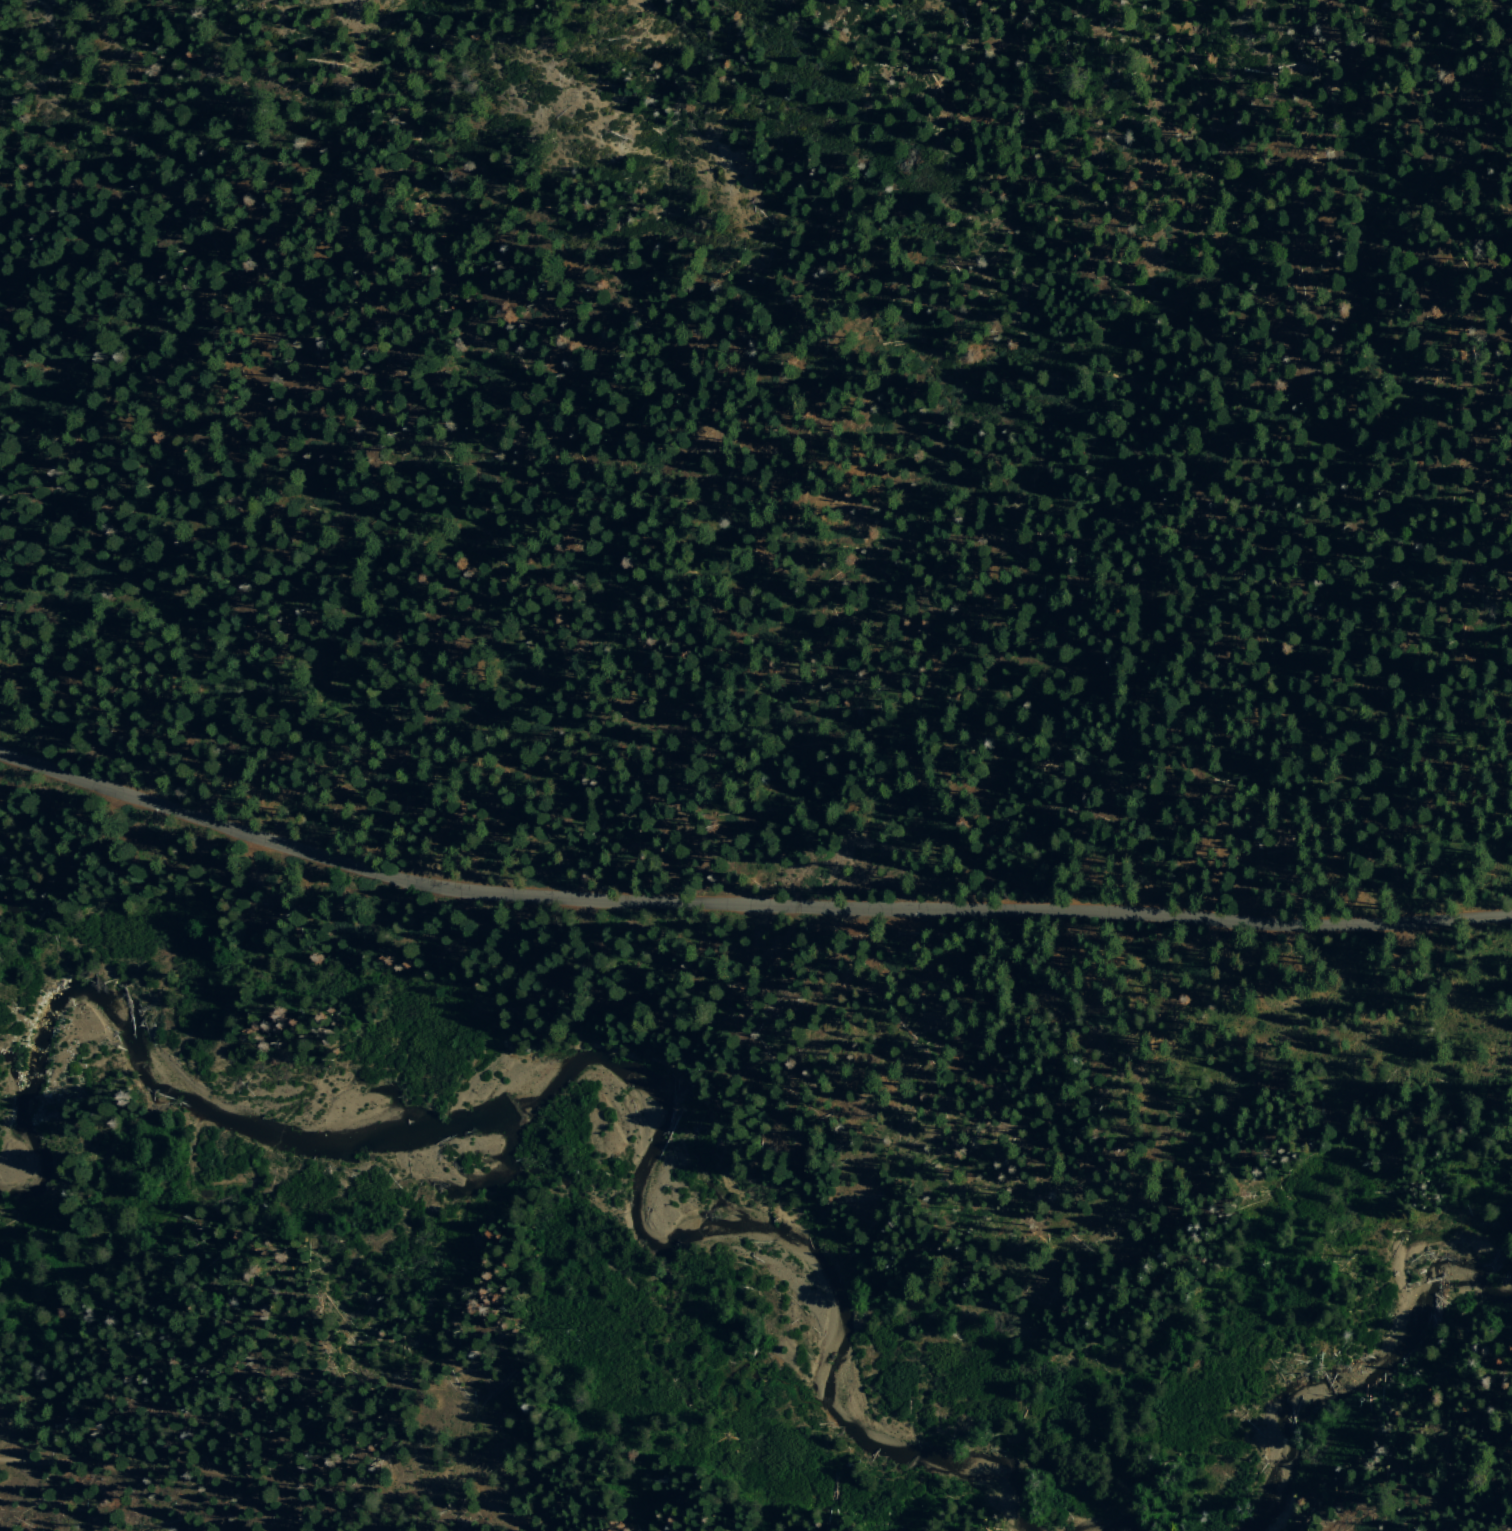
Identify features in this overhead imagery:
road: (745, 902)
road: (275, 1479)

